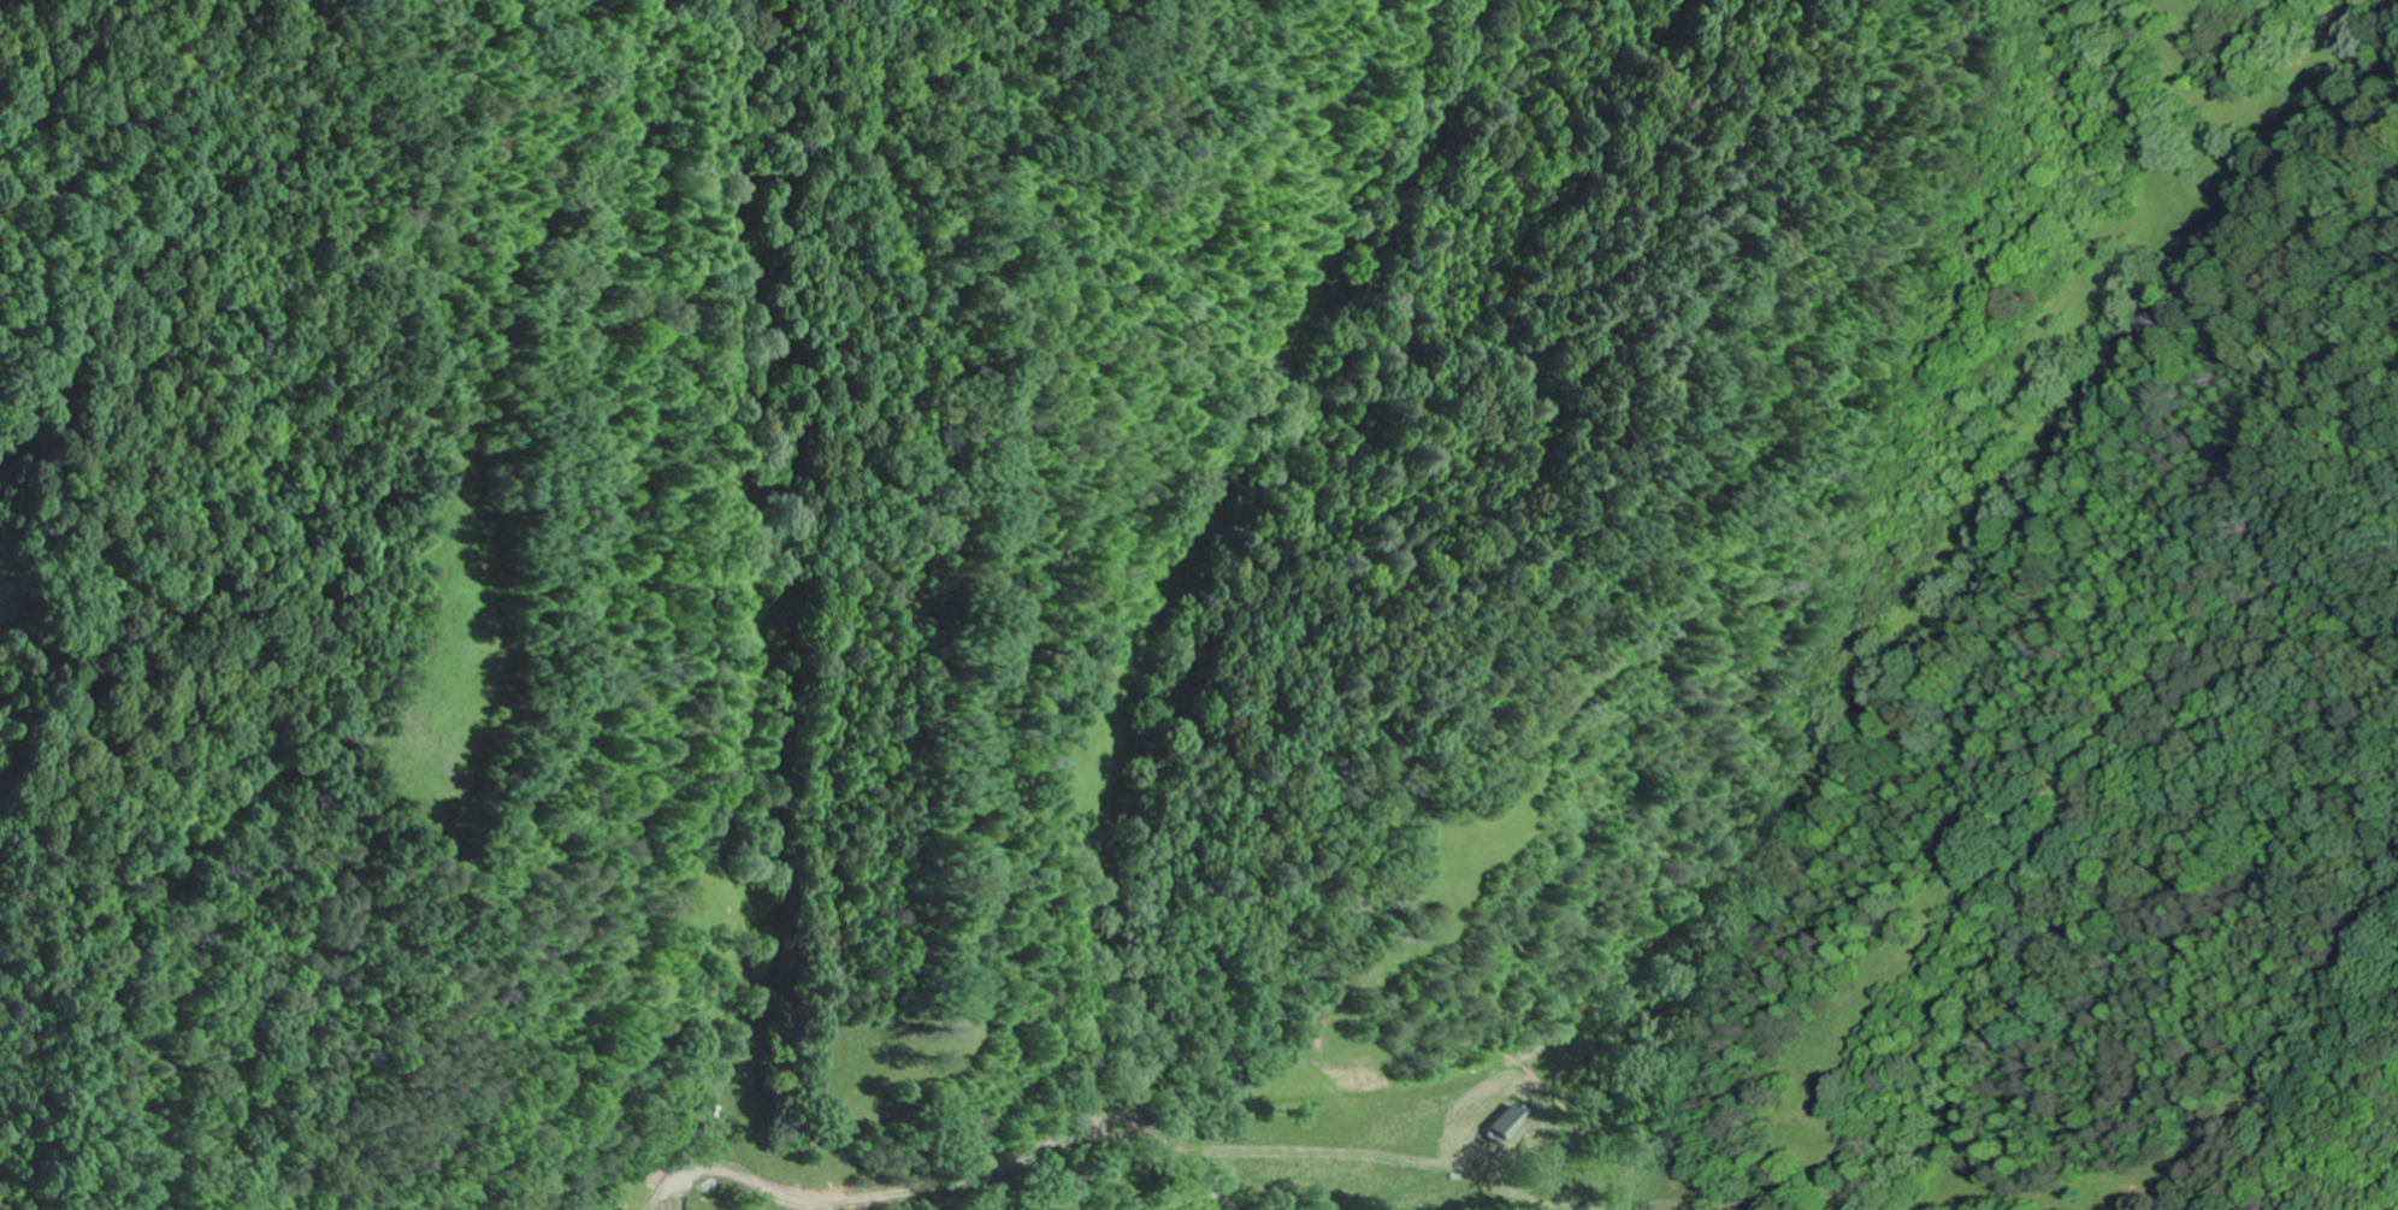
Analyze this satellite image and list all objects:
building: (1510, 1123)

